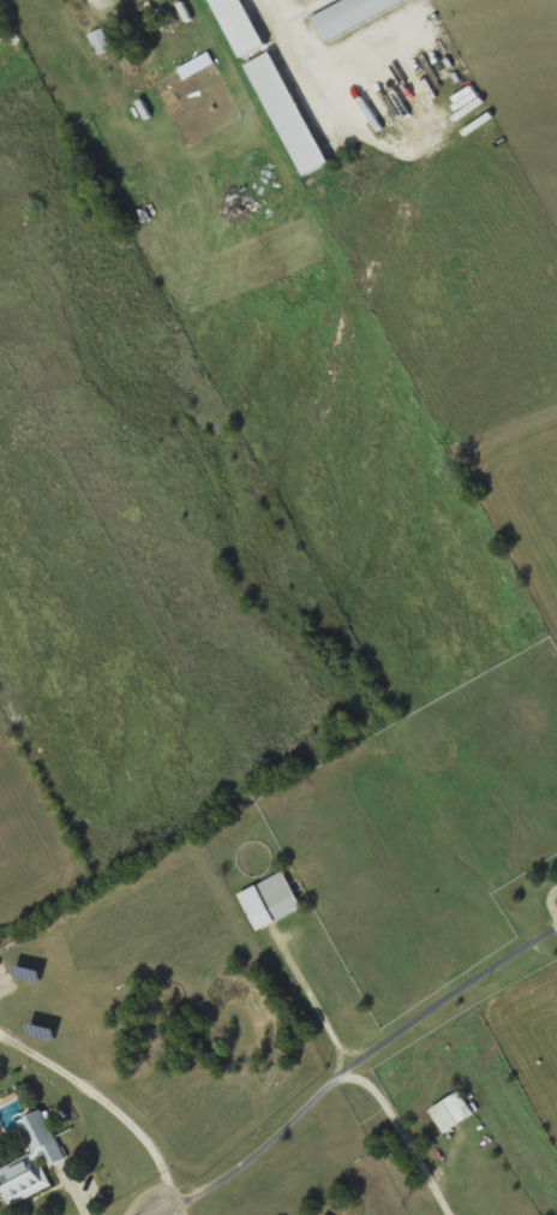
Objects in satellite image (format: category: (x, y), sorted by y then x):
building: (303, 0)
building: (351, 14)
building: (235, 28)
building: (4, 36)
building: (100, 42)
building: (288, 115)
building: (271, 900)
road: (447, 997)
road: (316, 1005)
building: (453, 1113)
road: (402, 1136)
road: (257, 1151)
building: (31, 1161)
road: (155, 1211)

